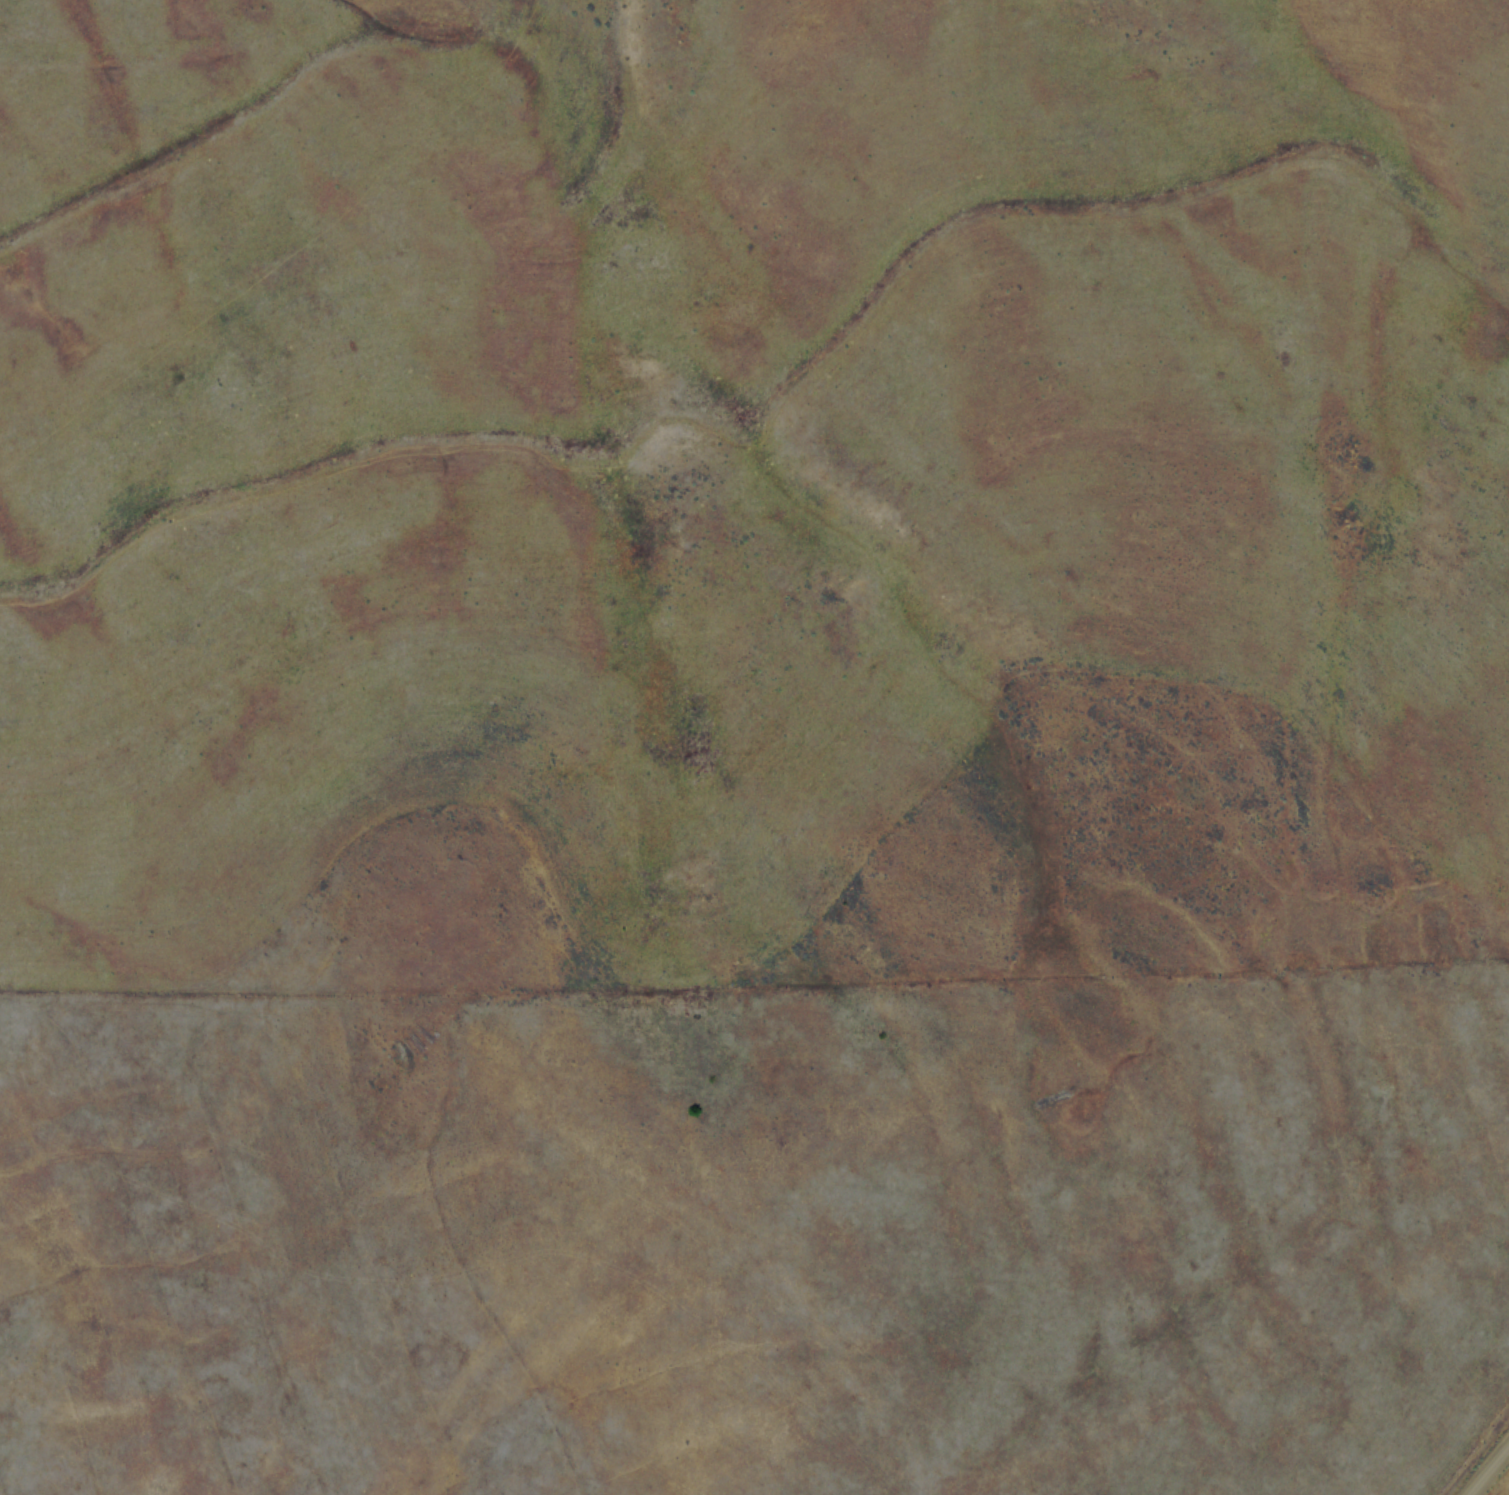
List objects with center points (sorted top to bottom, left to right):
road: (1487, 1469)

